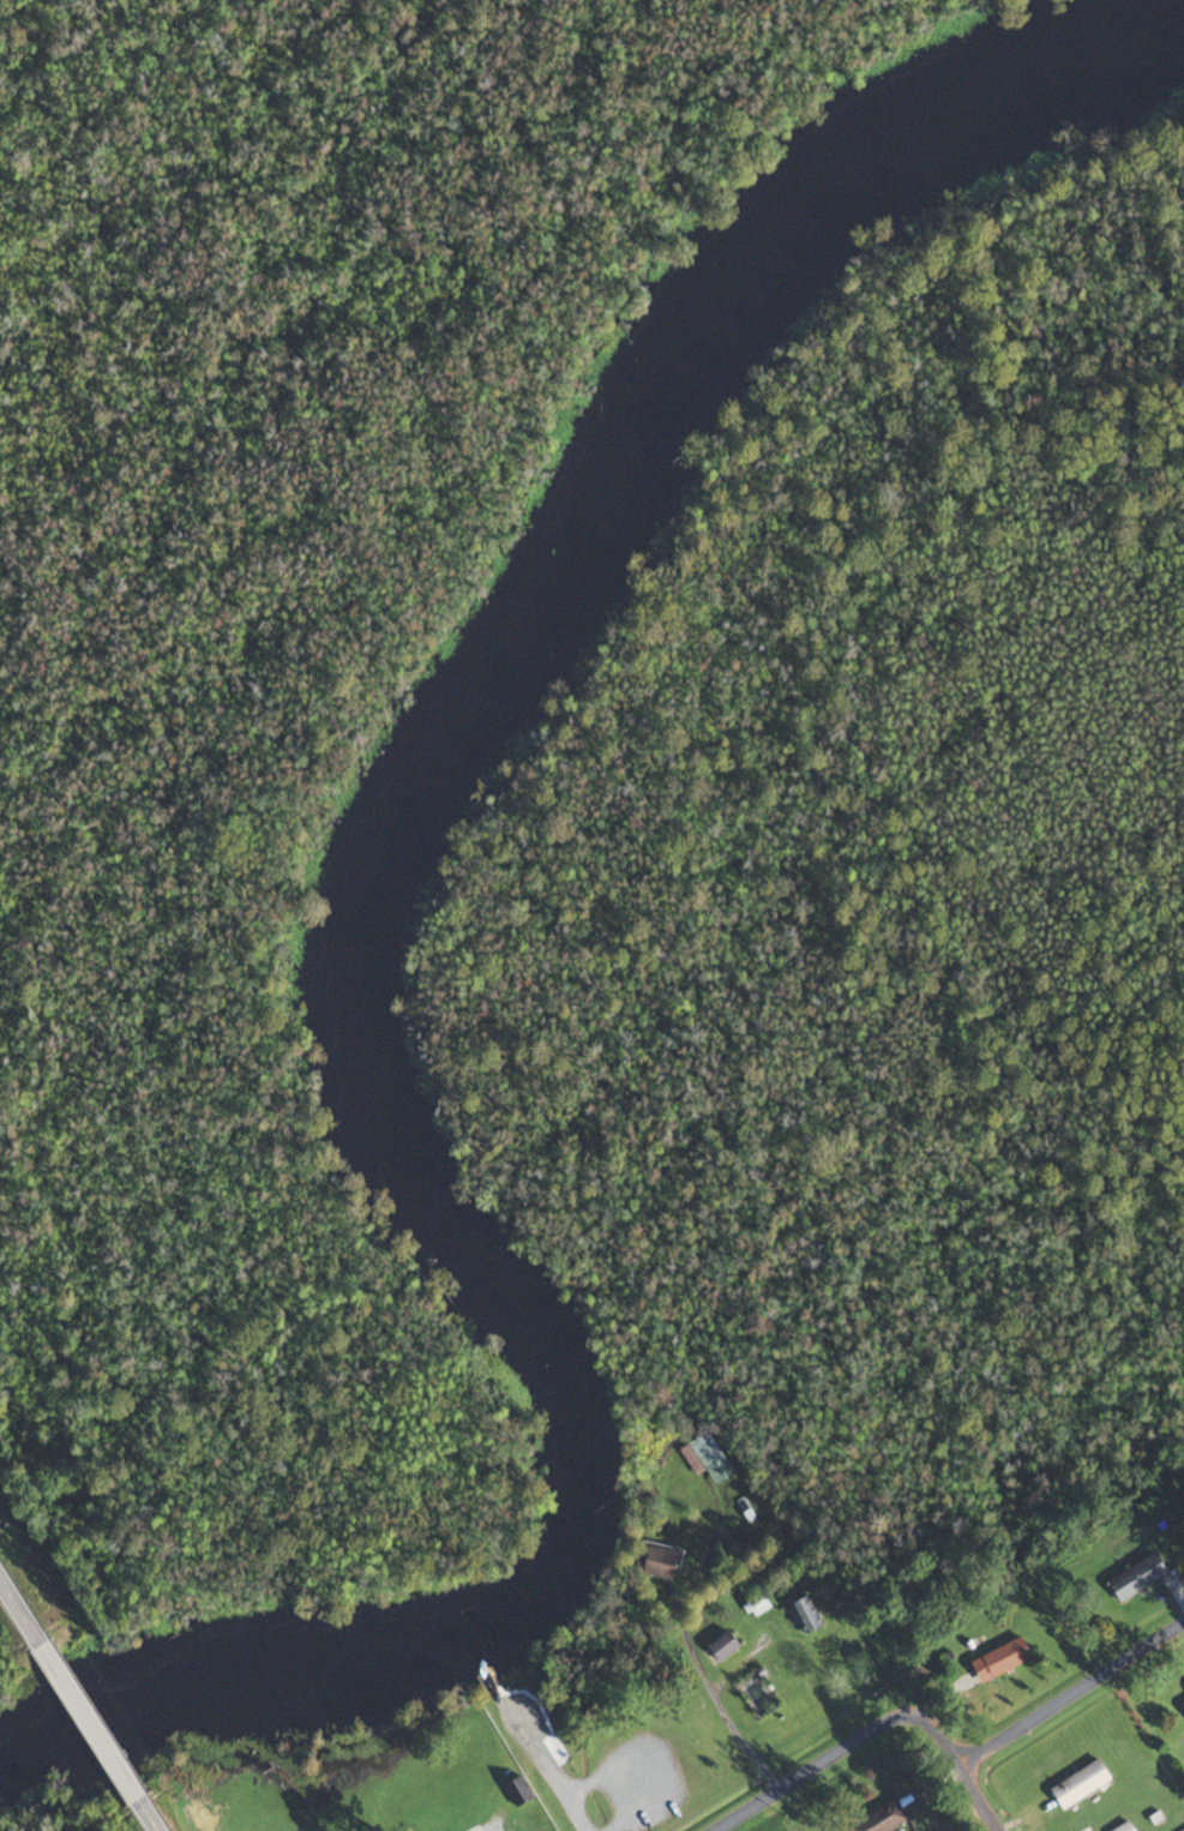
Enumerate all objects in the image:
building: (710, 1458)
building: (659, 1561)
building: (1140, 1577)
road: (19, 1615)
building: (805, 1616)
building: (723, 1646)
road: (693, 1653)
building: (1003, 1659)
road: (737, 1665)
road: (1072, 1692)
road: (88, 1722)
road: (842, 1749)
road: (548, 1777)
building: (1081, 1784)
road: (979, 1797)
road: (146, 1815)
building: (882, 1819)
building: (1124, 1827)

